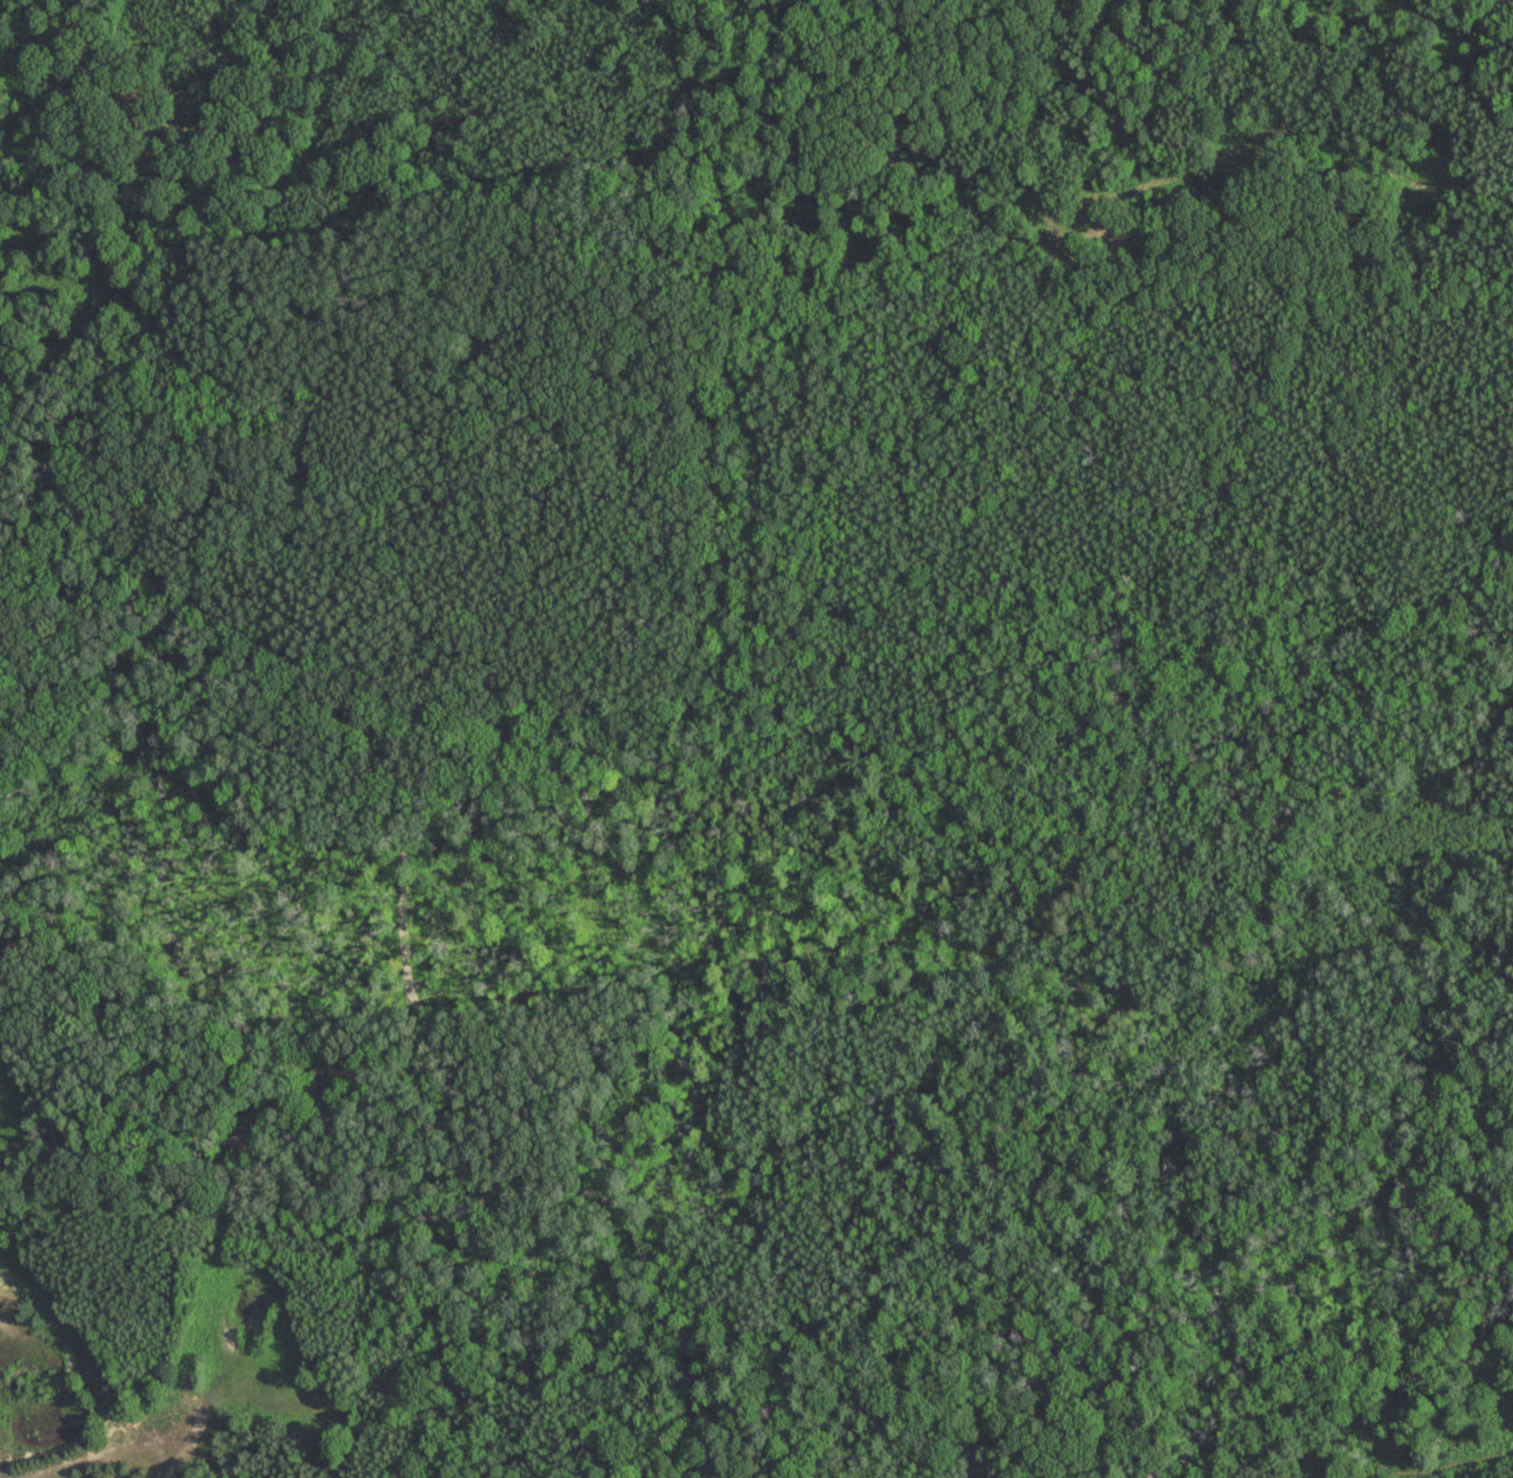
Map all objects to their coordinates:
building: (298, 1439)

